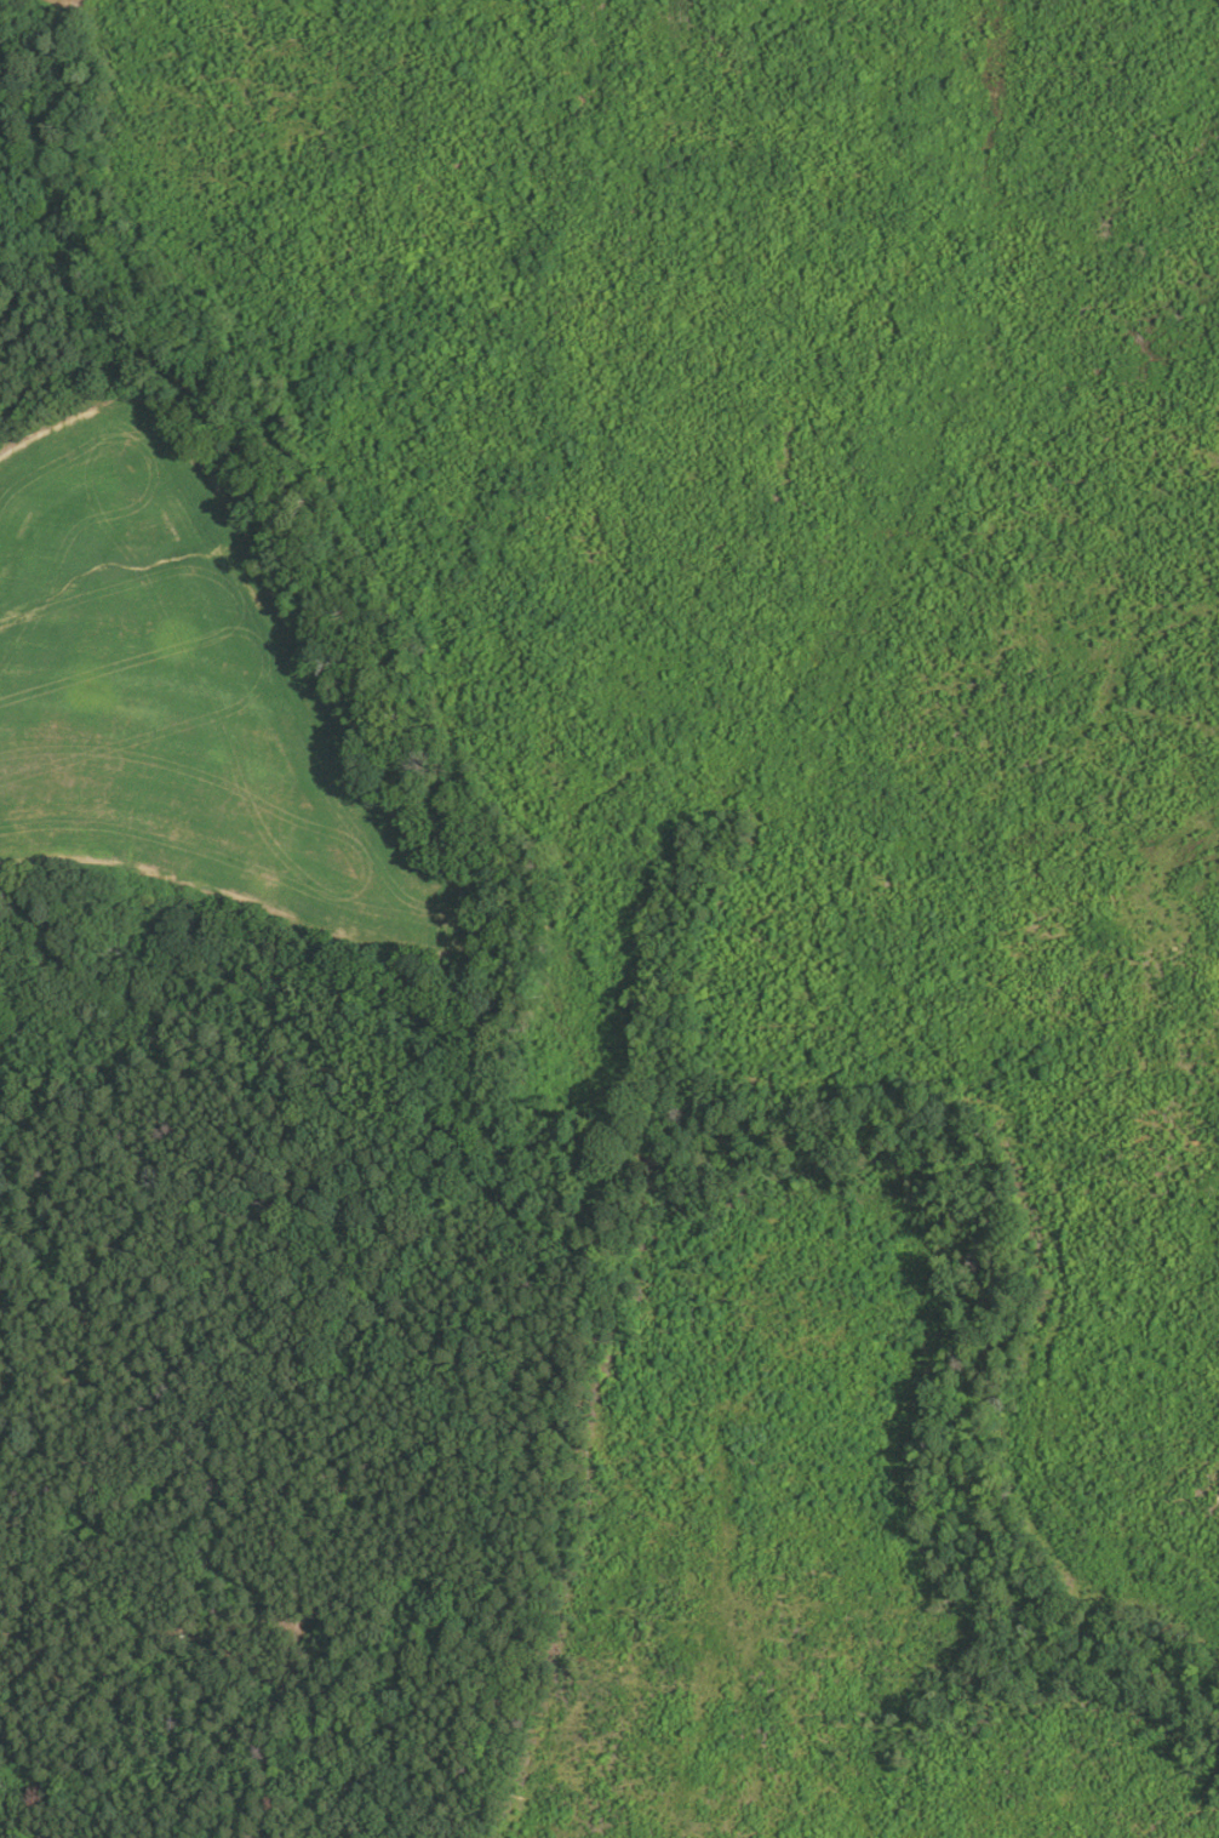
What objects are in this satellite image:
crop: (61, 0)

